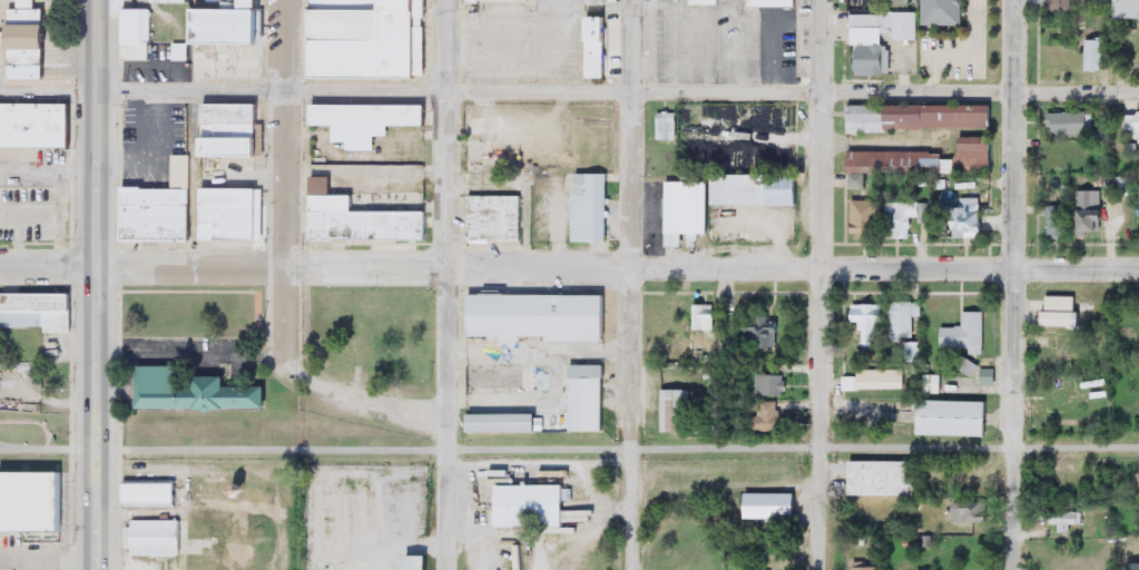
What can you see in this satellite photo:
building: (599, 0)
building: (181, 2)
building: (477, 2)
building: (874, 2)
building: (706, 3)
building: (770, 3)
building: (347, 4)
building: (1055, 6)
building: (1122, 9)
building: (936, 12)
building: (28, 26)
building: (598, 30)
building: (137, 36)
building: (422, 36)
building: (872, 39)
building: (233, 41)
building: (366, 41)
road: (1014, 43)
building: (1090, 56)
building: (598, 60)
building: (28, 62)
road: (556, 83)
road: (49, 86)
road: (1077, 87)
building: (233, 111)
building: (371, 116)
building: (915, 117)
building: (1063, 124)
building: (36, 126)
building: (1130, 127)
building: (666, 128)
road: (287, 129)
building: (233, 130)
building: (234, 149)
building: (1064, 158)
building: (926, 159)
building: (757, 190)
building: (590, 208)
building: (687, 212)
building: (157, 213)
building: (234, 213)
building: (1083, 213)
building: (866, 218)
building: (362, 219)
building: (495, 219)
building: (903, 220)
building: (961, 222)
building: (1049, 223)
road: (49, 261)
road: (618, 261)
road: (631, 284)
road: (819, 284)
road: (98, 285)
road: (446, 285)
building: (1053, 312)
building: (35, 314)
building: (539, 317)
road: (287, 318)
building: (705, 318)
building: (905, 322)
building: (872, 323)
road: (1013, 328)
building: (765, 335)
building: (965, 335)
road: (538, 350)
building: (1059, 351)
building: (511, 377)
building: (873, 382)
building: (768, 385)
building: (589, 389)
building: (194, 392)
road: (370, 397)
railway: (245, 410)
building: (676, 411)
building: (768, 417)
building: (954, 419)
road: (629, 449)
road: (36, 450)
road: (96, 450)
building: (885, 479)
building: (973, 479)
building: (1135, 480)
building: (151, 493)
building: (32, 502)
building: (533, 507)
building: (772, 507)
building: (969, 513)
building: (1064, 519)
building: (156, 539)
building: (420, 562)
building: (866, 568)

